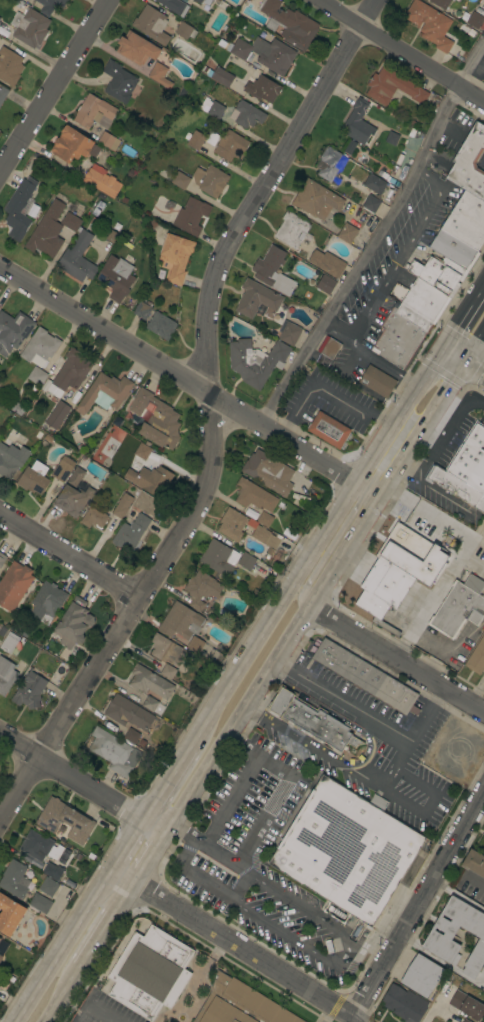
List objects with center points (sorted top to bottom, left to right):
building: (458, 0)
building: (206, 2)
building: (440, 3)
building: (49, 5)
building: (174, 6)
building: (480, 12)
building: (474, 20)
building: (289, 23)
building: (151, 24)
building: (430, 24)
building: (28, 26)
building: (185, 31)
road: (401, 51)
building: (264, 53)
building: (142, 55)
building: (9, 66)
building: (218, 75)
building: (118, 81)
building: (260, 86)
road: (55, 87)
building: (392, 87)
building: (3, 93)
building: (211, 108)
building: (94, 112)
building: (246, 114)
building: (358, 123)
building: (392, 138)
building: (194, 139)
building: (108, 140)
building: (73, 145)
building: (230, 146)
building: (350, 147)
building: (469, 163)
building: (330, 165)
building: (397, 173)
building: (382, 174)
building: (96, 177)
building: (202, 179)
building: (392, 181)
building: (374, 183)
building: (316, 199)
building: (370, 204)
building: (97, 207)
building: (19, 208)
building: (191, 216)
building: (70, 221)
building: (291, 229)
building: (47, 231)
building: (462, 231)
building: (347, 233)
road: (372, 234)
building: (175, 257)
building: (77, 258)
building: (326, 263)
building: (272, 271)
building: (438, 273)
road: (390, 275)
building: (116, 277)
building: (324, 284)
building: (397, 291)
building: (314, 298)
building: (257, 299)
building: (425, 300)
building: (142, 309)
building: (318, 309)
road: (462, 318)
building: (160, 325)
building: (13, 331)
building: (290, 334)
building: (401, 335)
building: (39, 347)
building: (328, 347)
traffic signals: (441, 352)
building: (255, 361)
road: (462, 364)
traffic signals: (465, 366)
building: (69, 373)
building: (36, 375)
building: (377, 381)
road: (407, 381)
road: (189, 382)
building: (104, 393)
road: (337, 396)
building: (16, 407)
building: (57, 415)
road: (211, 415)
road: (396, 416)
building: (156, 419)
building: (329, 430)
building: (142, 451)
building: (11, 459)
building: (470, 459)
building: (63, 469)
building: (268, 472)
building: (75, 476)
building: (34, 478)
building: (150, 480)
building: (455, 487)
building: (254, 496)
building: (74, 498)
building: (122, 505)
building: (145, 509)
road: (339, 509)
building: (250, 513)
building: (93, 518)
building: (264, 519)
building: (232, 524)
building: (131, 532)
building: (266, 538)
road: (466, 545)
road: (71, 556)
building: (219, 557)
building: (2, 558)
building: (249, 562)
road: (303, 563)
building: (399, 568)
building: (473, 583)
road: (322, 584)
building: (14, 585)
building: (201, 589)
building: (483, 597)
building: (45, 602)
building: (457, 610)
building: (180, 621)
building: (394, 621)
building: (73, 623)
building: (2, 630)
building: (10, 645)
building: (197, 645)
building: (27, 646)
building: (220, 648)
building: (164, 649)
building: (476, 657)
road: (396, 658)
road: (237, 670)
building: (167, 671)
building: (6, 675)
building: (364, 676)
building: (149, 682)
building: (29, 691)
road: (477, 691)
building: (153, 705)
building: (128, 713)
road: (425, 714)
building: (311, 720)
building: (131, 735)
building: (114, 752)
road: (395, 768)
road: (242, 782)
road: (81, 784)
road: (166, 784)
road: (270, 805)
building: (66, 820)
building: (483, 825)
road: (126, 845)
building: (39, 846)
building: (347, 854)
road: (149, 858)
building: (474, 862)
building: (51, 870)
road: (123, 877)
building: (14, 879)
building: (48, 887)
building: (40, 903)
road: (417, 903)
building: (9, 914)
road: (109, 926)
building: (442, 932)
building: (0, 937)
building: (2, 946)
road: (61, 946)
road: (246, 952)
building: (0, 956)
road: (325, 956)
building: (150, 972)
building: (480, 973)
building: (421, 975)
road: (65, 995)
building: (404, 1003)
building: (239, 1004)
building: (466, 1005)
road: (94, 1006)
building: (464, 1020)
building: (445, 1021)
building: (446, 1021)

